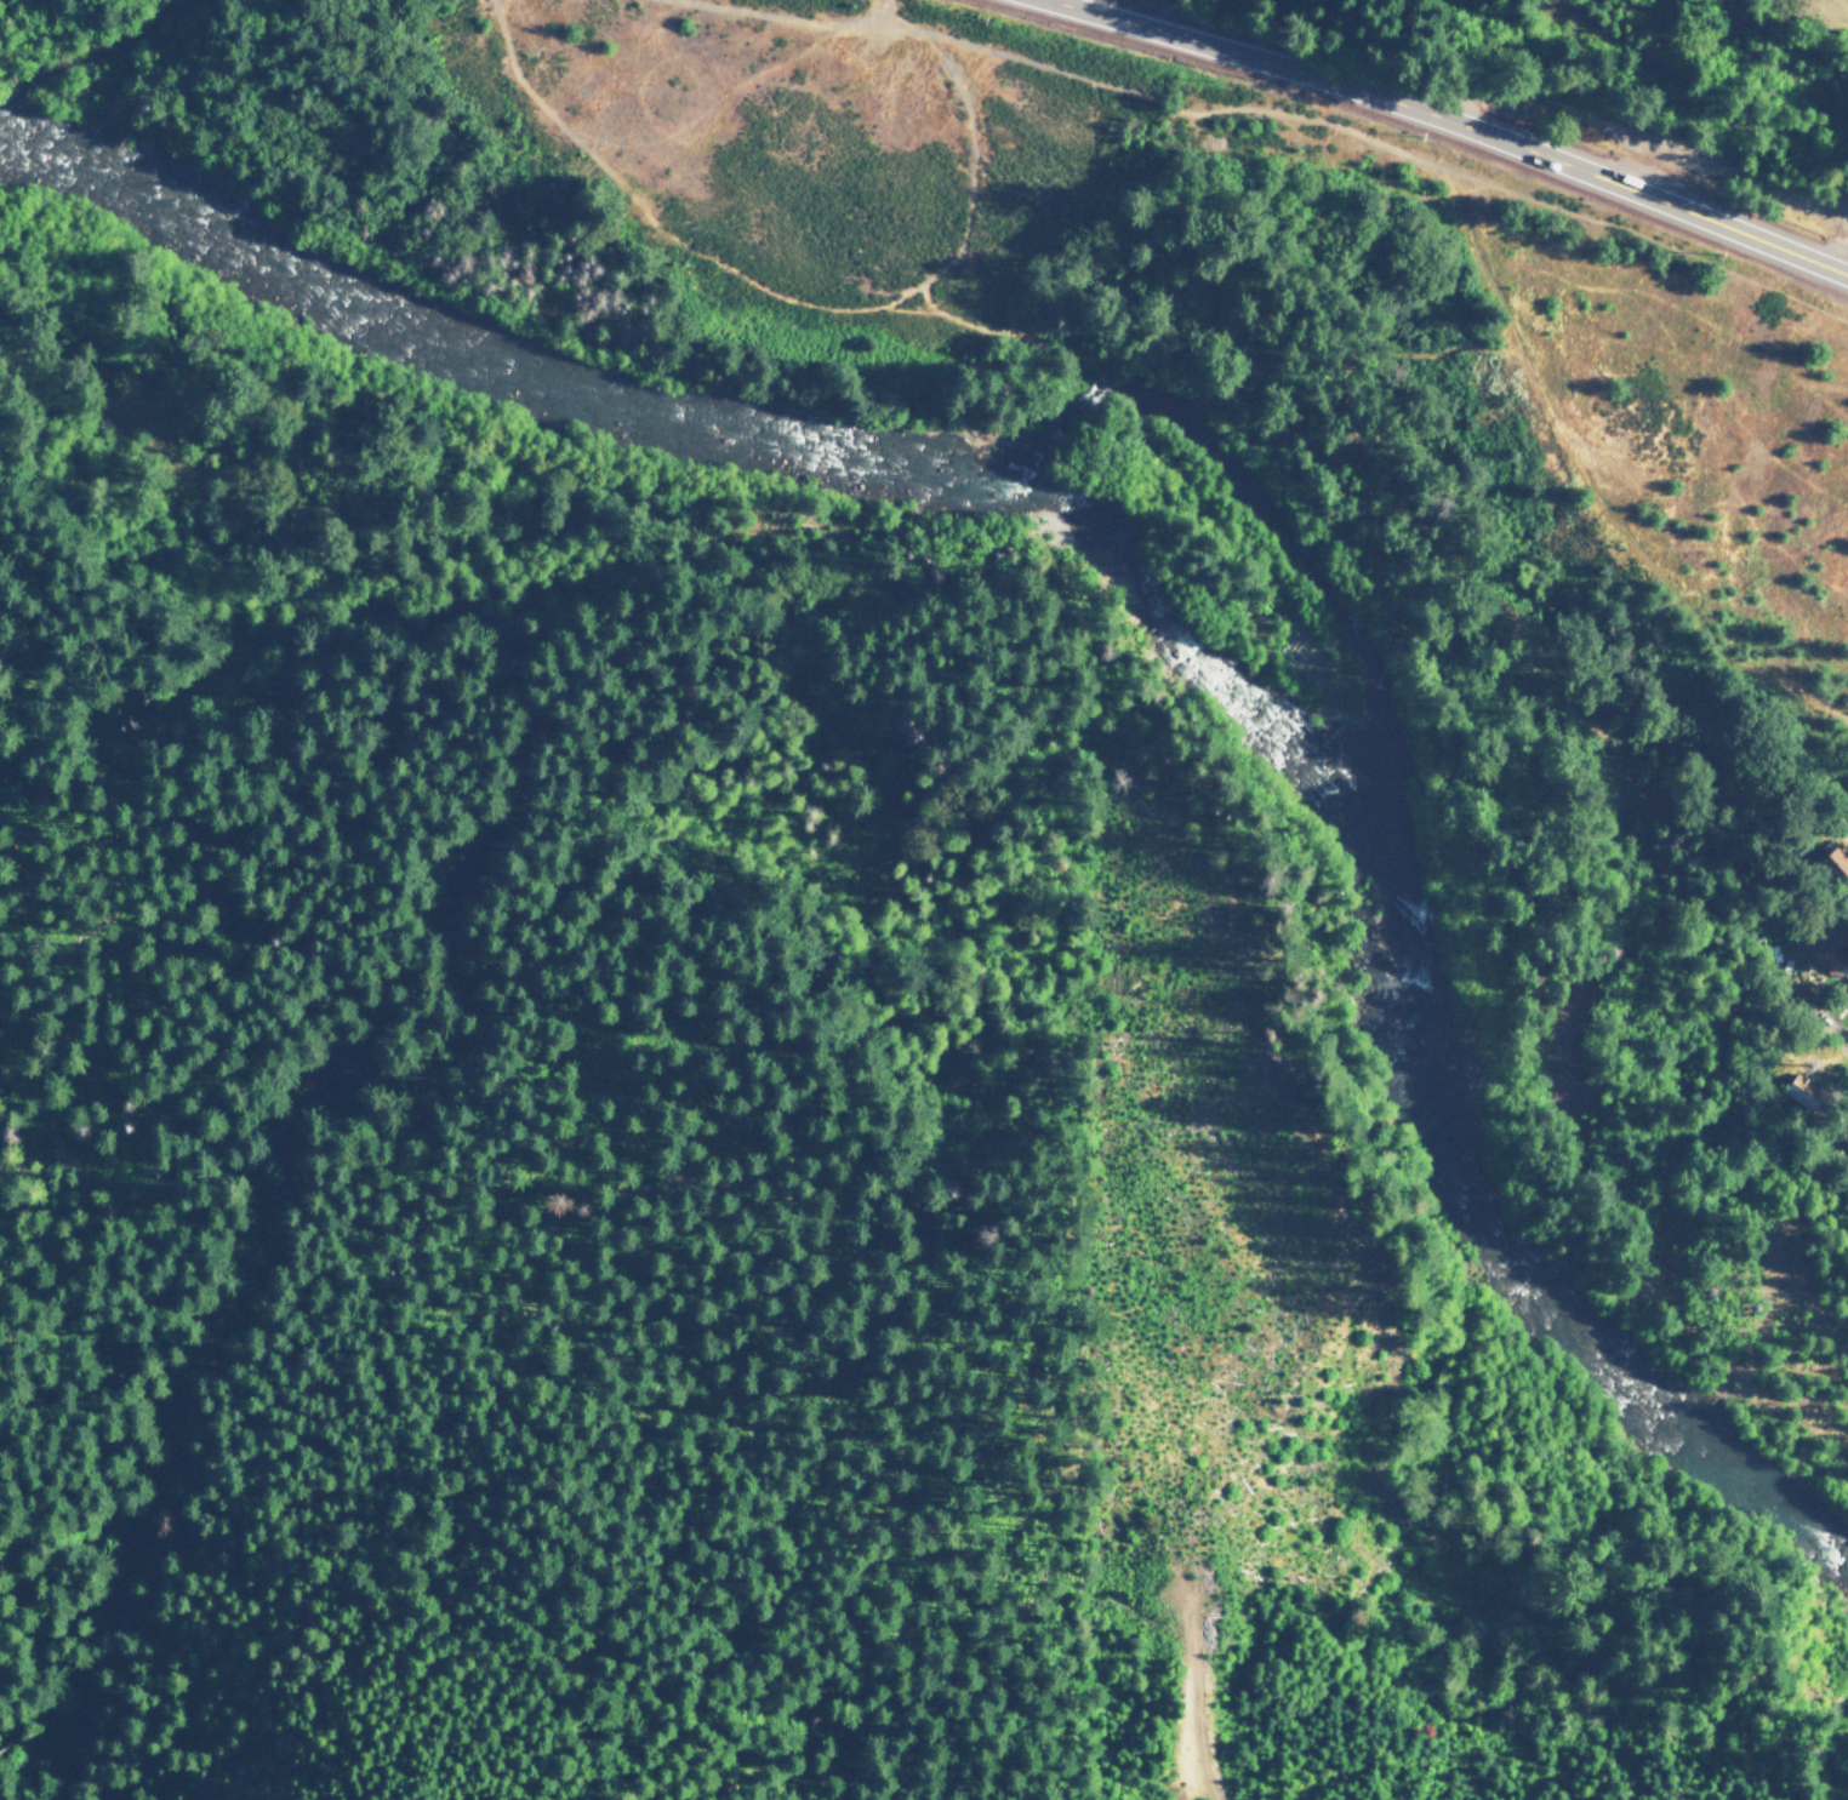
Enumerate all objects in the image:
road: (1838, 6)
road: (1443, 124)
road: (1722, 164)
river: (1136, 587)
building: (1835, 862)
building: (1844, 898)
building: (1826, 956)
building: (1844, 996)
road: (1807, 1012)
building: (1799, 1091)
building: (1844, 1136)

